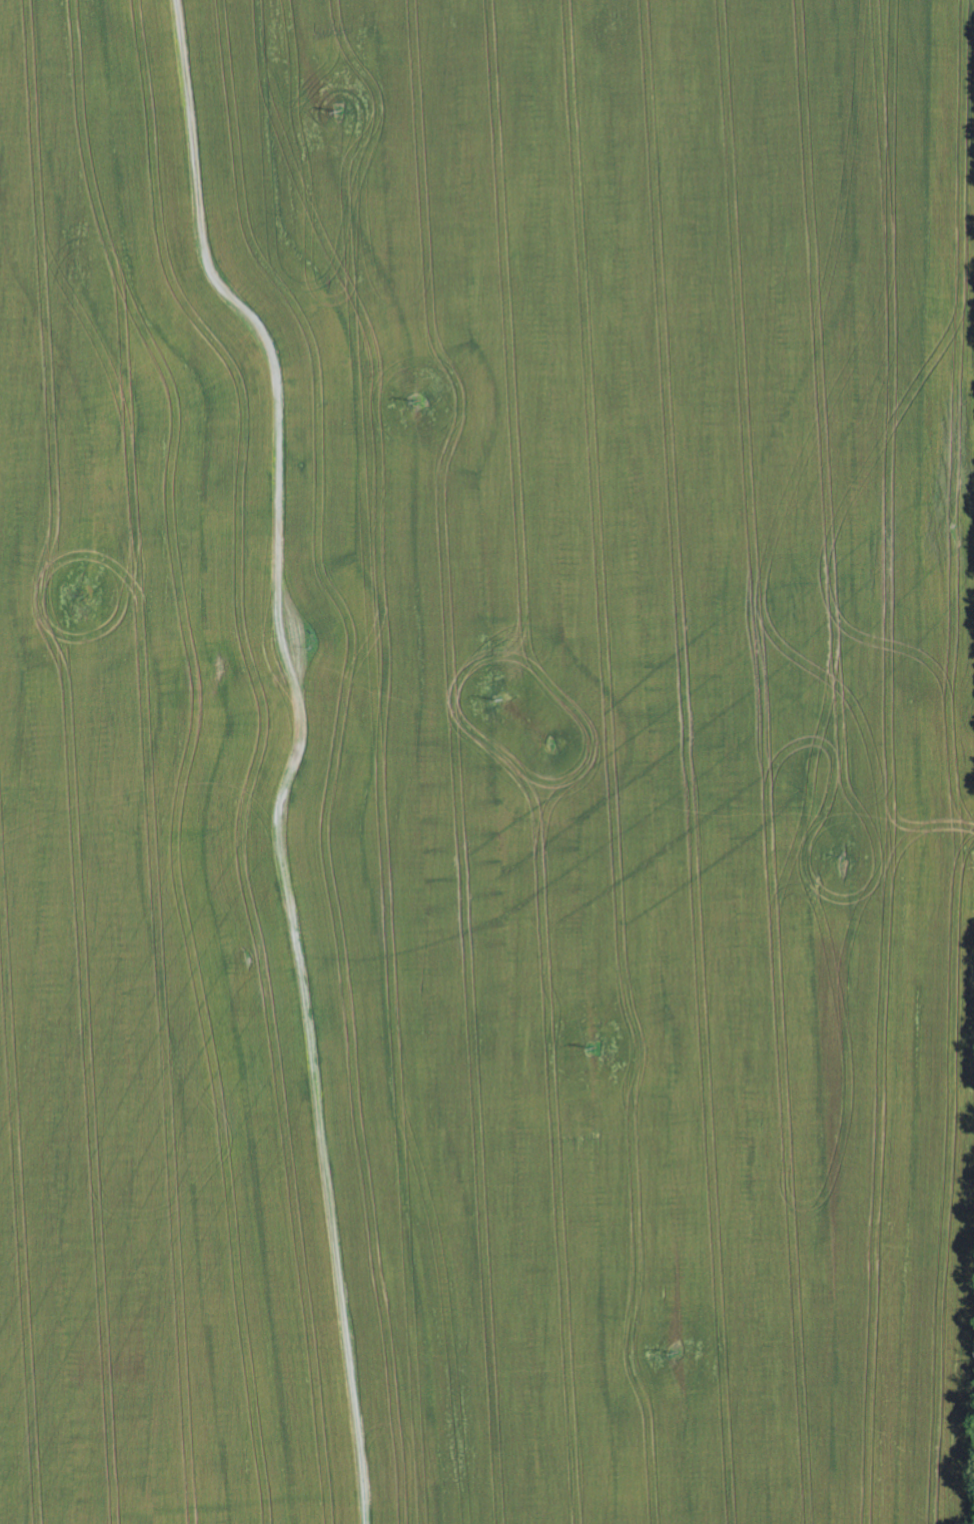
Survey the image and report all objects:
road: (200, 207)

